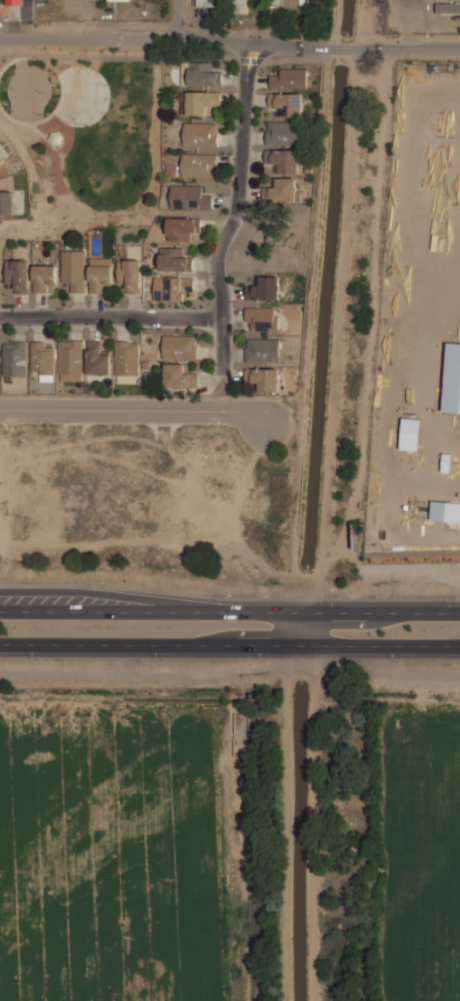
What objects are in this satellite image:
building: (120, 0)
building: (14, 1)
building: (205, 2)
building: (238, 2)
building: (285, 5)
building: (448, 8)
road: (178, 20)
road: (230, 41)
building: (200, 73)
building: (290, 79)
building: (201, 101)
building: (287, 102)
building: (201, 133)
building: (284, 133)
park: (85, 136)
building: (56, 137)
building: (1, 159)
building: (285, 159)
building: (199, 165)
building: (282, 190)
building: (190, 195)
building: (7, 202)
road: (236, 204)
road: (195, 218)
building: (182, 227)
road: (13, 228)
building: (175, 259)
building: (74, 269)
building: (18, 273)
building: (132, 273)
building: (46, 277)
building: (102, 277)
building: (181, 288)
building: (264, 288)
road: (110, 315)
building: (262, 318)
building: (181, 348)
building: (262, 350)
building: (15, 359)
building: (43, 359)
building: (98, 359)
building: (127, 359)
building: (71, 361)
building: (179, 376)
building: (265, 377)
road: (141, 411)
road: (230, 610)
road: (303, 628)
road: (229, 644)
road: (230, 671)
crop: (420, 850)
crop: (122, 852)

